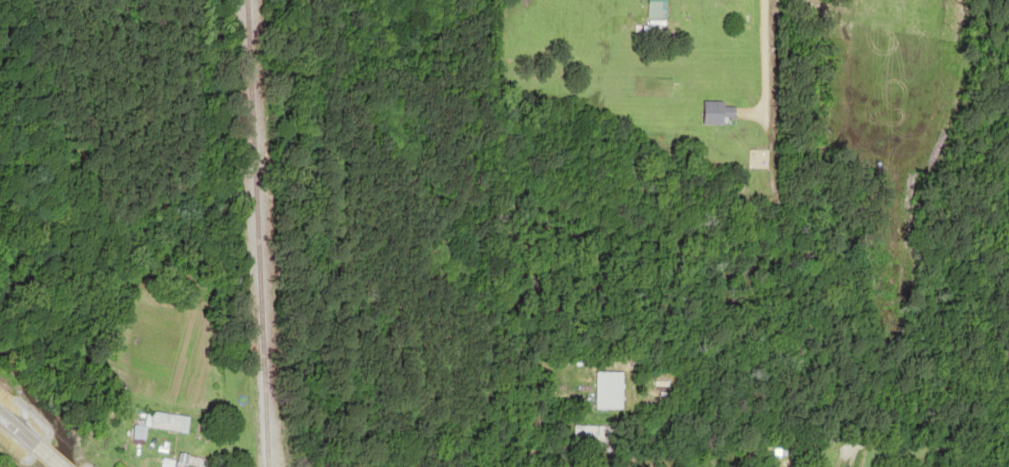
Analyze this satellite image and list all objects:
building: (655, 9)
road: (753, 54)
building: (712, 111)
railway: (262, 233)
building: (603, 389)
river: (42, 400)
building: (168, 421)
road: (16, 435)
road: (42, 458)
building: (192, 461)

